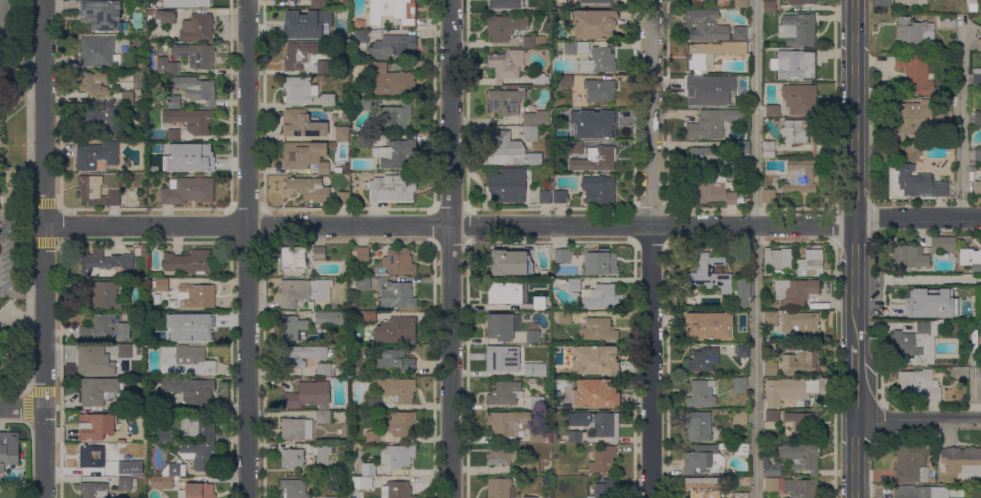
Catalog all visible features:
building: (705, 0)
building: (601, 2)
building: (800, 2)
building: (911, 2)
building: (180, 3)
building: (504, 3)
building: (741, 3)
building: (317, 4)
building: (770, 7)
building: (394, 11)
building: (102, 15)
building: (164, 16)
road: (4, 19)
building: (949, 21)
parking lot: (10, 23)
building: (313, 23)
building: (594, 24)
building: (705, 25)
building: (355, 26)
building: (505, 27)
building: (197, 28)
building: (798, 30)
building: (740, 33)
building: (914, 33)
building: (362, 37)
road: (2, 39)
building: (533, 41)
building: (979, 45)
building: (392, 46)
building: (576, 48)
building: (98, 52)
building: (301, 54)
building: (196, 55)
building: (710, 55)
building: (599, 61)
road: (21, 63)
building: (506, 65)
building: (795, 65)
building: (168, 66)
building: (323, 67)
building: (916, 74)
building: (977, 77)
building: (540, 79)
building: (392, 81)
building: (566, 81)
building: (737, 81)
building: (136, 82)
building: (94, 83)
building: (196, 89)
building: (300, 90)
building: (600, 90)
building: (699, 91)
building: (127, 96)
building: (945, 97)
building: (800, 98)
building: (141, 99)
building: (174, 101)
building: (328, 101)
building: (505, 101)
building: (367, 104)
road: (855, 110)
building: (345, 111)
building: (772, 111)
building: (945, 111)
road: (43, 112)
building: (90, 117)
building: (396, 117)
building: (345, 118)
building: (536, 118)
building: (914, 119)
building: (978, 119)
building: (190, 120)
building: (593, 123)
building: (301, 124)
building: (712, 124)
road: (961, 124)
building: (939, 126)
building: (796, 132)
building: (341, 133)
building: (531, 133)
building: (173, 135)
building: (365, 141)
building: (814, 146)
building: (743, 147)
building: (576, 148)
building: (769, 149)
building: (508, 150)
building: (978, 153)
building: (197, 154)
building: (302, 154)
building: (396, 154)
building: (96, 155)
building: (596, 159)
building: (703, 159)
building: (168, 168)
building: (323, 168)
building: (802, 176)
building: (123, 179)
building: (921, 182)
building: (507, 186)
building: (978, 187)
building: (310, 189)
building: (392, 189)
building: (712, 189)
building: (600, 190)
building: (189, 191)
building: (96, 192)
building: (560, 196)
building: (769, 196)
building: (545, 197)
building: (343, 198)
road: (28, 208)
road: (917, 218)
road: (449, 225)
building: (944, 244)
road: (450, 248)
road: (755, 248)
road: (246, 249)
road: (651, 249)
building: (319, 253)
building: (363, 254)
parking lot: (6, 256)
building: (563, 256)
building: (910, 257)
building: (778, 258)
building: (293, 259)
building: (971, 260)
building: (105, 261)
building: (191, 262)
building: (399, 262)
building: (600, 262)
road: (855, 262)
building: (510, 263)
building: (811, 263)
building: (711, 274)
road: (917, 280)
building: (161, 284)
building: (364, 284)
building: (574, 285)
building: (304, 291)
building: (508, 291)
building: (742, 291)
building: (795, 291)
building: (102, 294)
building: (197, 296)
building: (398, 296)
building: (601, 297)
building: (539, 303)
building: (903, 309)
building: (938, 314)
road: (44, 315)
building: (369, 317)
building: (565, 317)
building: (332, 318)
building: (743, 319)
building: (771, 319)
road: (855, 322)
building: (200, 325)
building: (708, 325)
building: (801, 325)
building: (503, 326)
building: (293, 327)
building: (105, 329)
building: (598, 330)
building: (396, 331)
building: (533, 337)
building: (170, 338)
building: (345, 339)
building: (916, 343)
building: (743, 351)
building: (125, 352)
building: (301, 356)
building: (392, 360)
building: (596, 360)
building: (704, 360)
building: (186, 361)
building: (513, 361)
building: (91, 362)
building: (801, 363)
building: (771, 369)
building: (324, 370)
building: (952, 374)
road: (835, 376)
road: (855, 380)
building: (740, 385)
building: (919, 385)
building: (398, 389)
building: (97, 390)
building: (789, 390)
building: (191, 391)
building: (505, 394)
building: (595, 394)
building: (702, 394)
building: (309, 395)
building: (375, 402)
building: (536, 402)
building: (161, 403)
road: (22, 407)
building: (772, 416)
building: (323, 417)
building: (740, 417)
road: (917, 418)
building: (508, 423)
building: (802, 423)
building: (401, 424)
building: (597, 424)
building: (699, 426)
building: (96, 427)
building: (200, 428)
building: (297, 429)
building: (555, 433)
building: (539, 436)
building: (373, 437)
building: (575, 437)
building: (726, 447)
building: (741, 449)
building: (9, 450)
road: (44, 452)
building: (323, 453)
building: (198, 456)
building: (400, 456)
building: (502, 456)
building: (92, 457)
building: (801, 457)
building: (292, 459)
building: (311, 459)
road: (854, 459)
building: (603, 460)
building: (704, 460)
building: (962, 461)
building: (910, 463)
building: (125, 467)
building: (532, 467)
building: (143, 469)
building: (368, 469)
building: (770, 469)
building: (174, 470)
building: (124, 483)
building: (167, 483)
building: (362, 483)
building: (703, 487)
building: (801, 487)
building: (500, 488)
building: (294, 489)
building: (605, 489)
building: (94, 490)
building: (199, 490)
building: (399, 490)
building: (920, 492)
building: (356, 494)
building: (741, 495)
building: (332, 497)
building: (530, 497)

